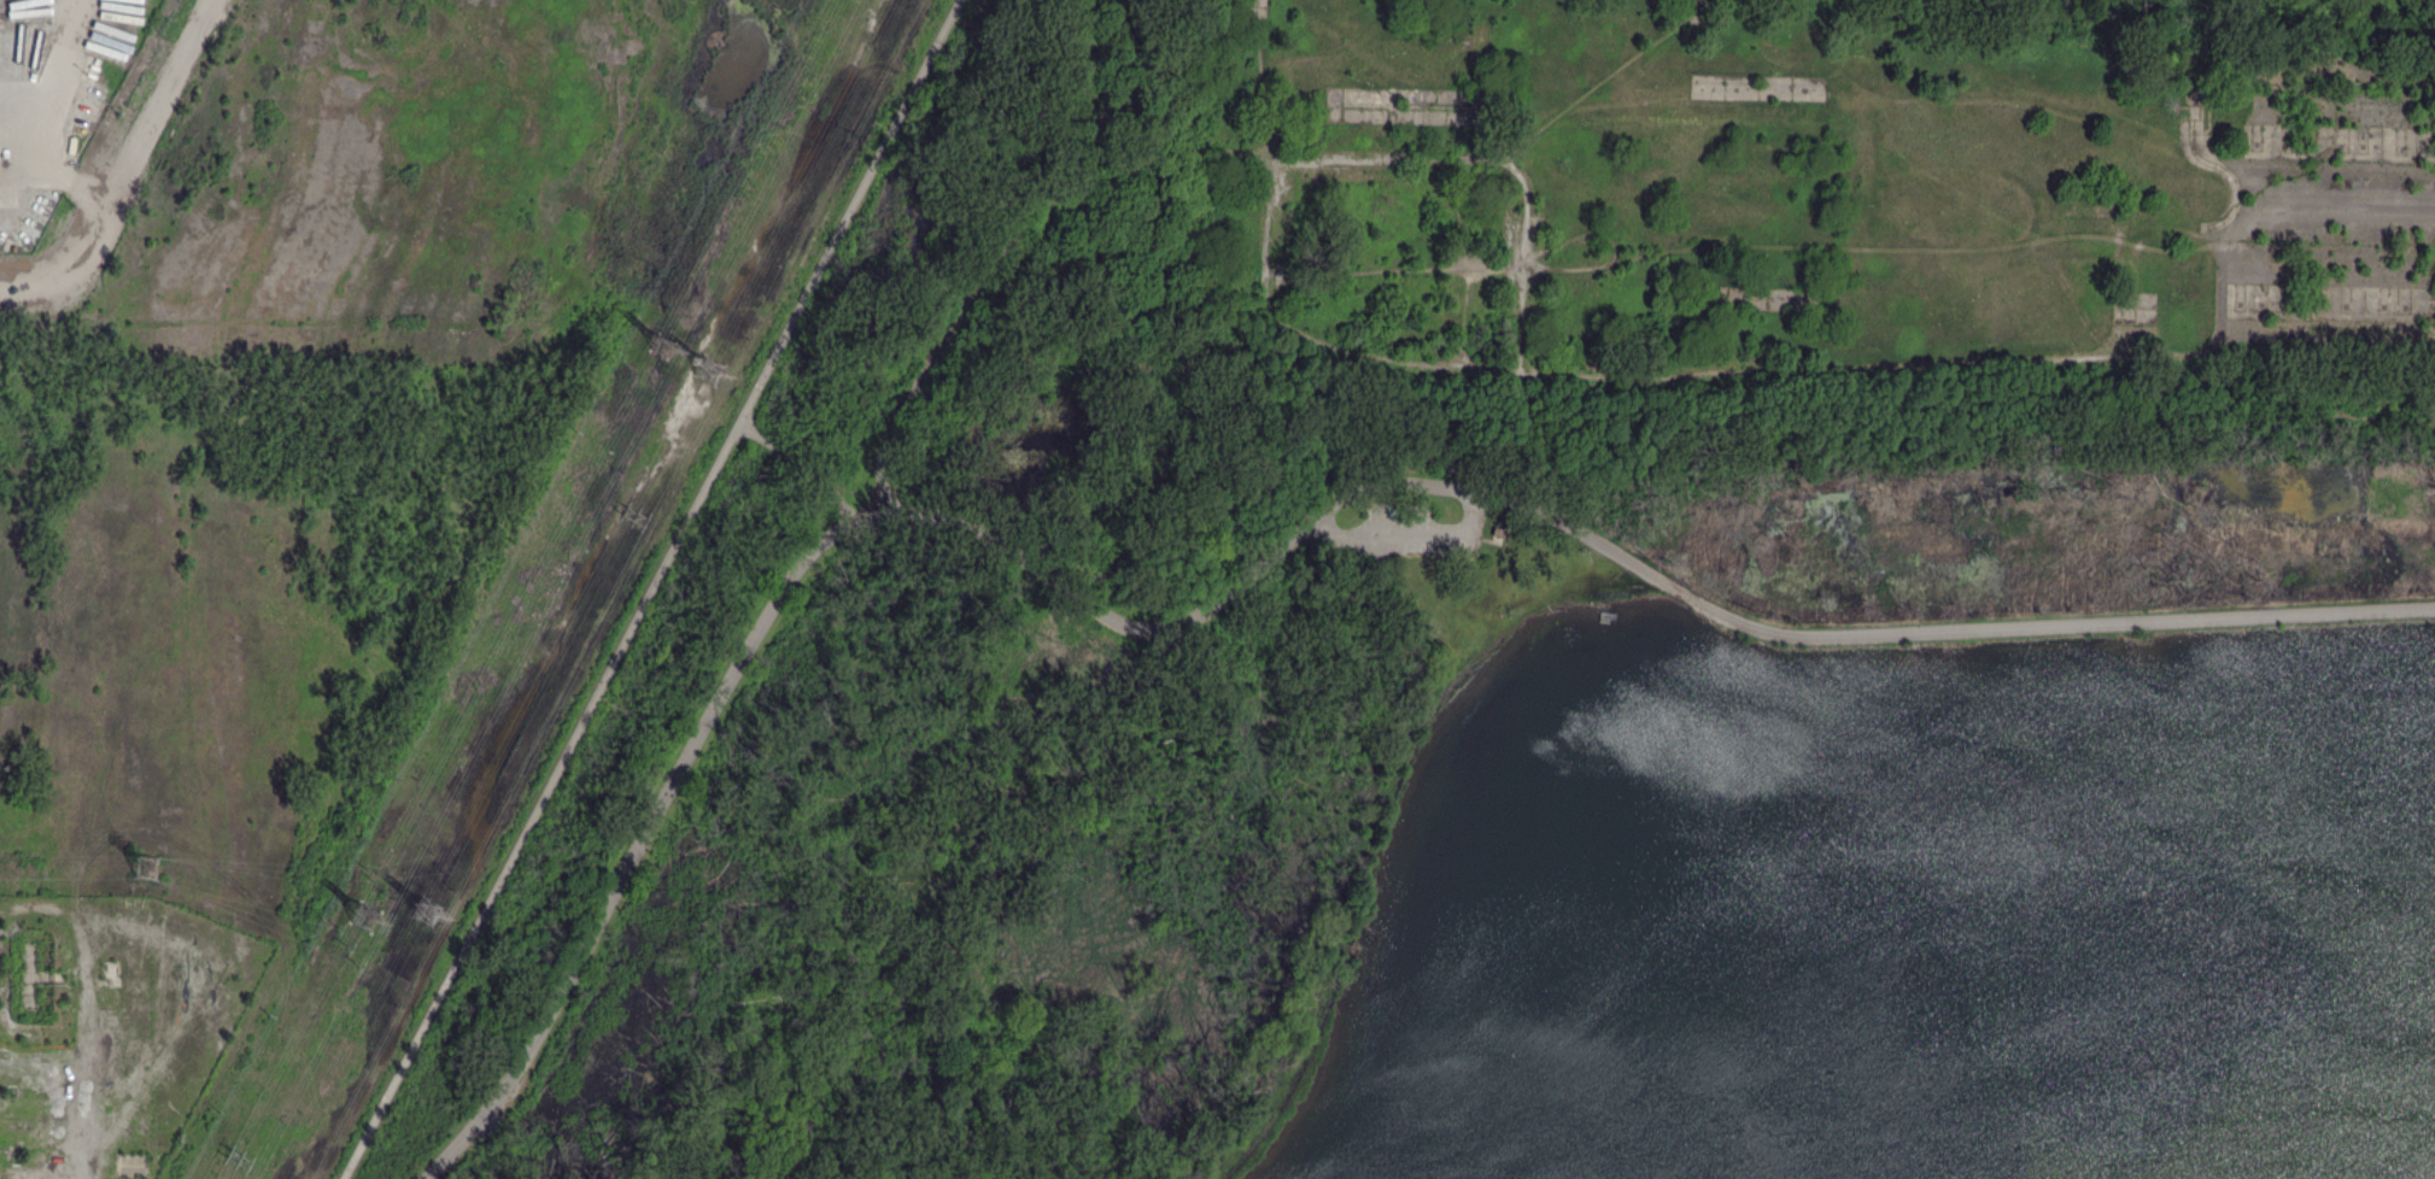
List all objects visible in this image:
road: (1598, 77)
road: (1492, 160)
road: (128, 165)
road: (1079, 180)
road: (849, 211)
road: (1517, 325)
power tower: (658, 345)
power tower: (706, 371)
road: (1646, 373)
road: (802, 464)
building: (1500, 529)
parking lot: (1411, 532)
road: (1409, 534)
road: (1189, 620)
road: (1938, 627)
park: (1475, 792)
road: (544, 802)
road: (644, 832)
power tower: (146, 867)
power tower: (441, 869)
power tower: (371, 880)
power tower: (425, 909)
power tower: (365, 920)
power tower: (347, 944)

